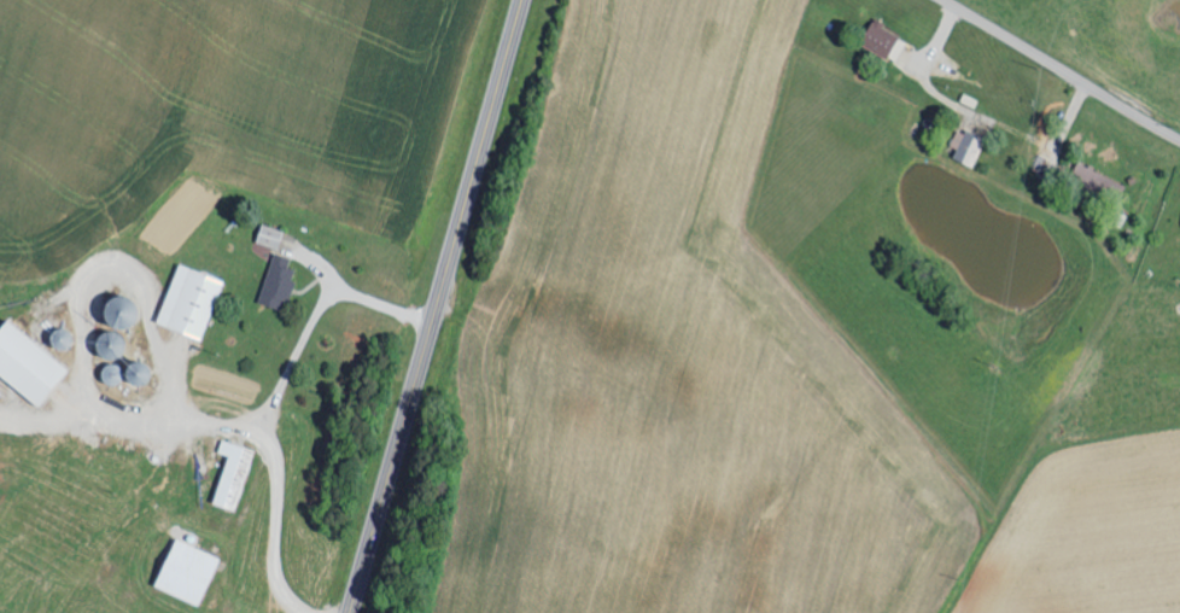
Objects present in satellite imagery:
building: (887, 41)
road: (1061, 69)
building: (968, 146)
building: (271, 237)
building: (280, 281)
building: (192, 302)
road: (438, 306)
building: (30, 364)
building: (1, 395)
building: (235, 474)
building: (189, 572)

